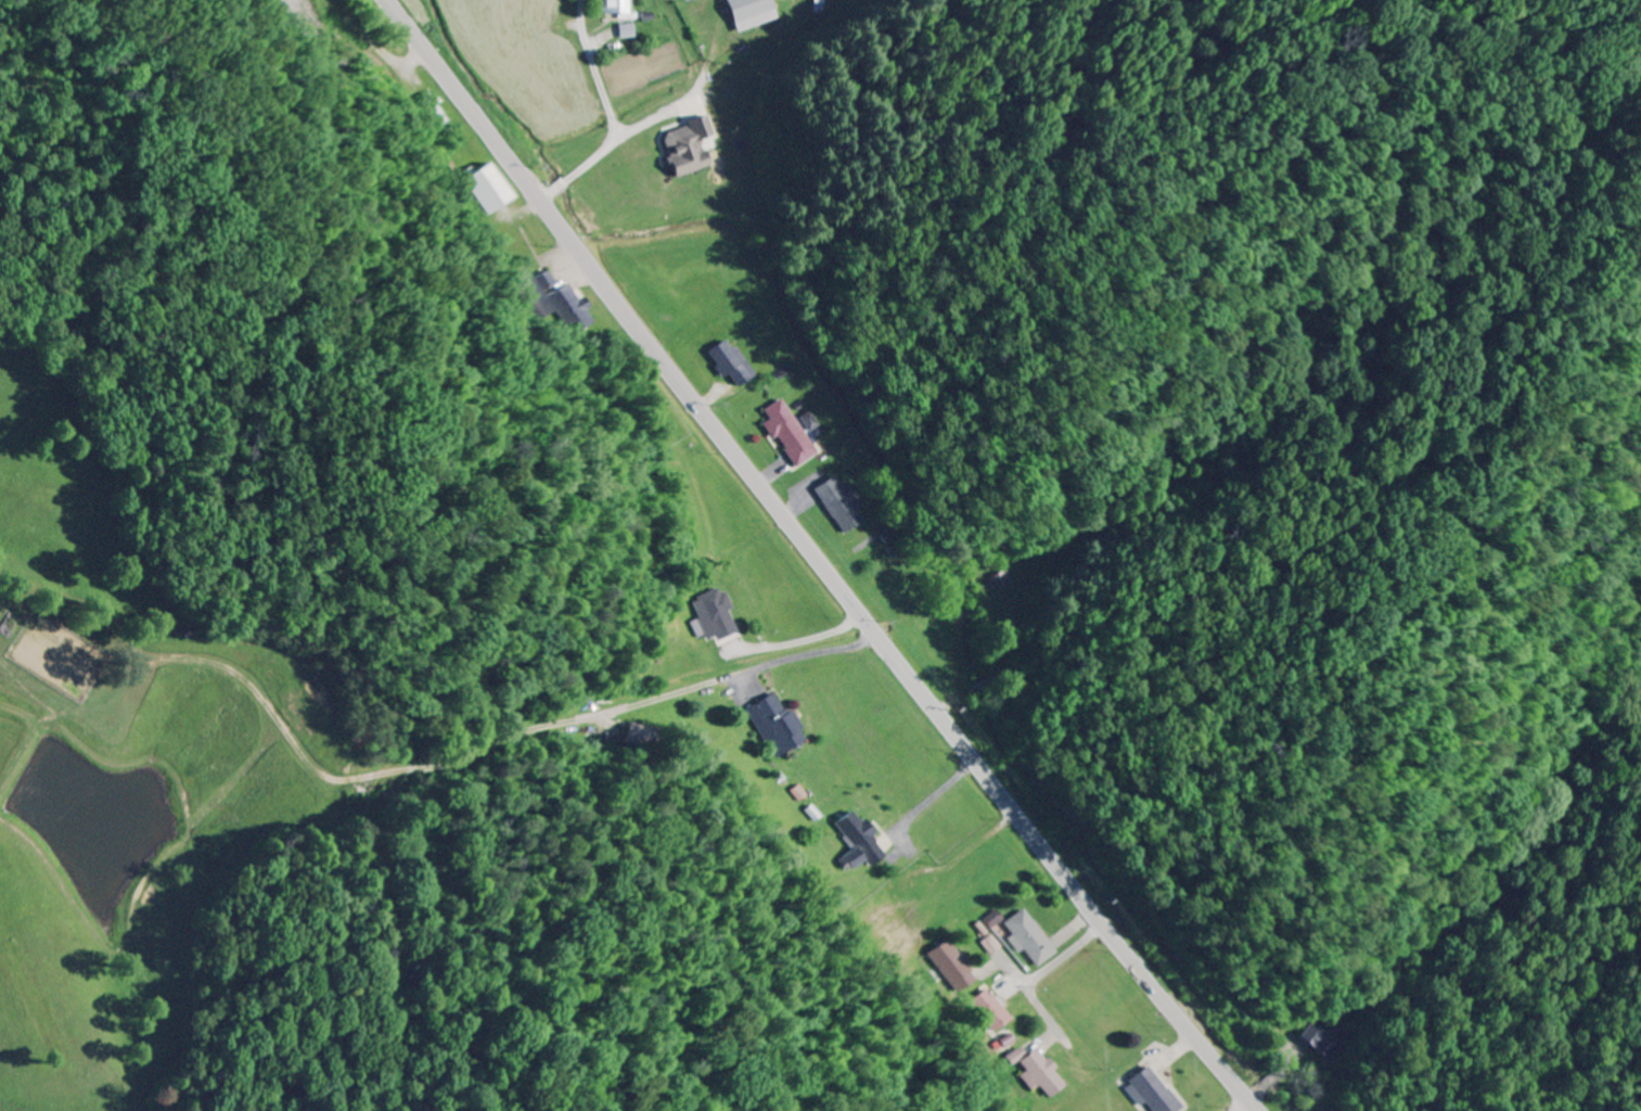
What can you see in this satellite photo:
building: (616, 10)
building: (749, 14)
building: (624, 31)
road: (600, 111)
building: (685, 146)
building: (490, 189)
building: (563, 303)
building: (731, 363)
building: (808, 422)
building: (787, 434)
building: (839, 503)
building: (887, 534)
road: (818, 559)
building: (999, 582)
building: (713, 616)
building: (779, 726)
building: (644, 737)
building: (861, 843)
building: (995, 919)
building: (1029, 938)
building: (991, 946)
building: (956, 967)
building: (993, 1011)
building: (1323, 1038)
building: (1010, 1043)
building: (1040, 1072)
building: (1151, 1093)
road: (1242, 1106)

